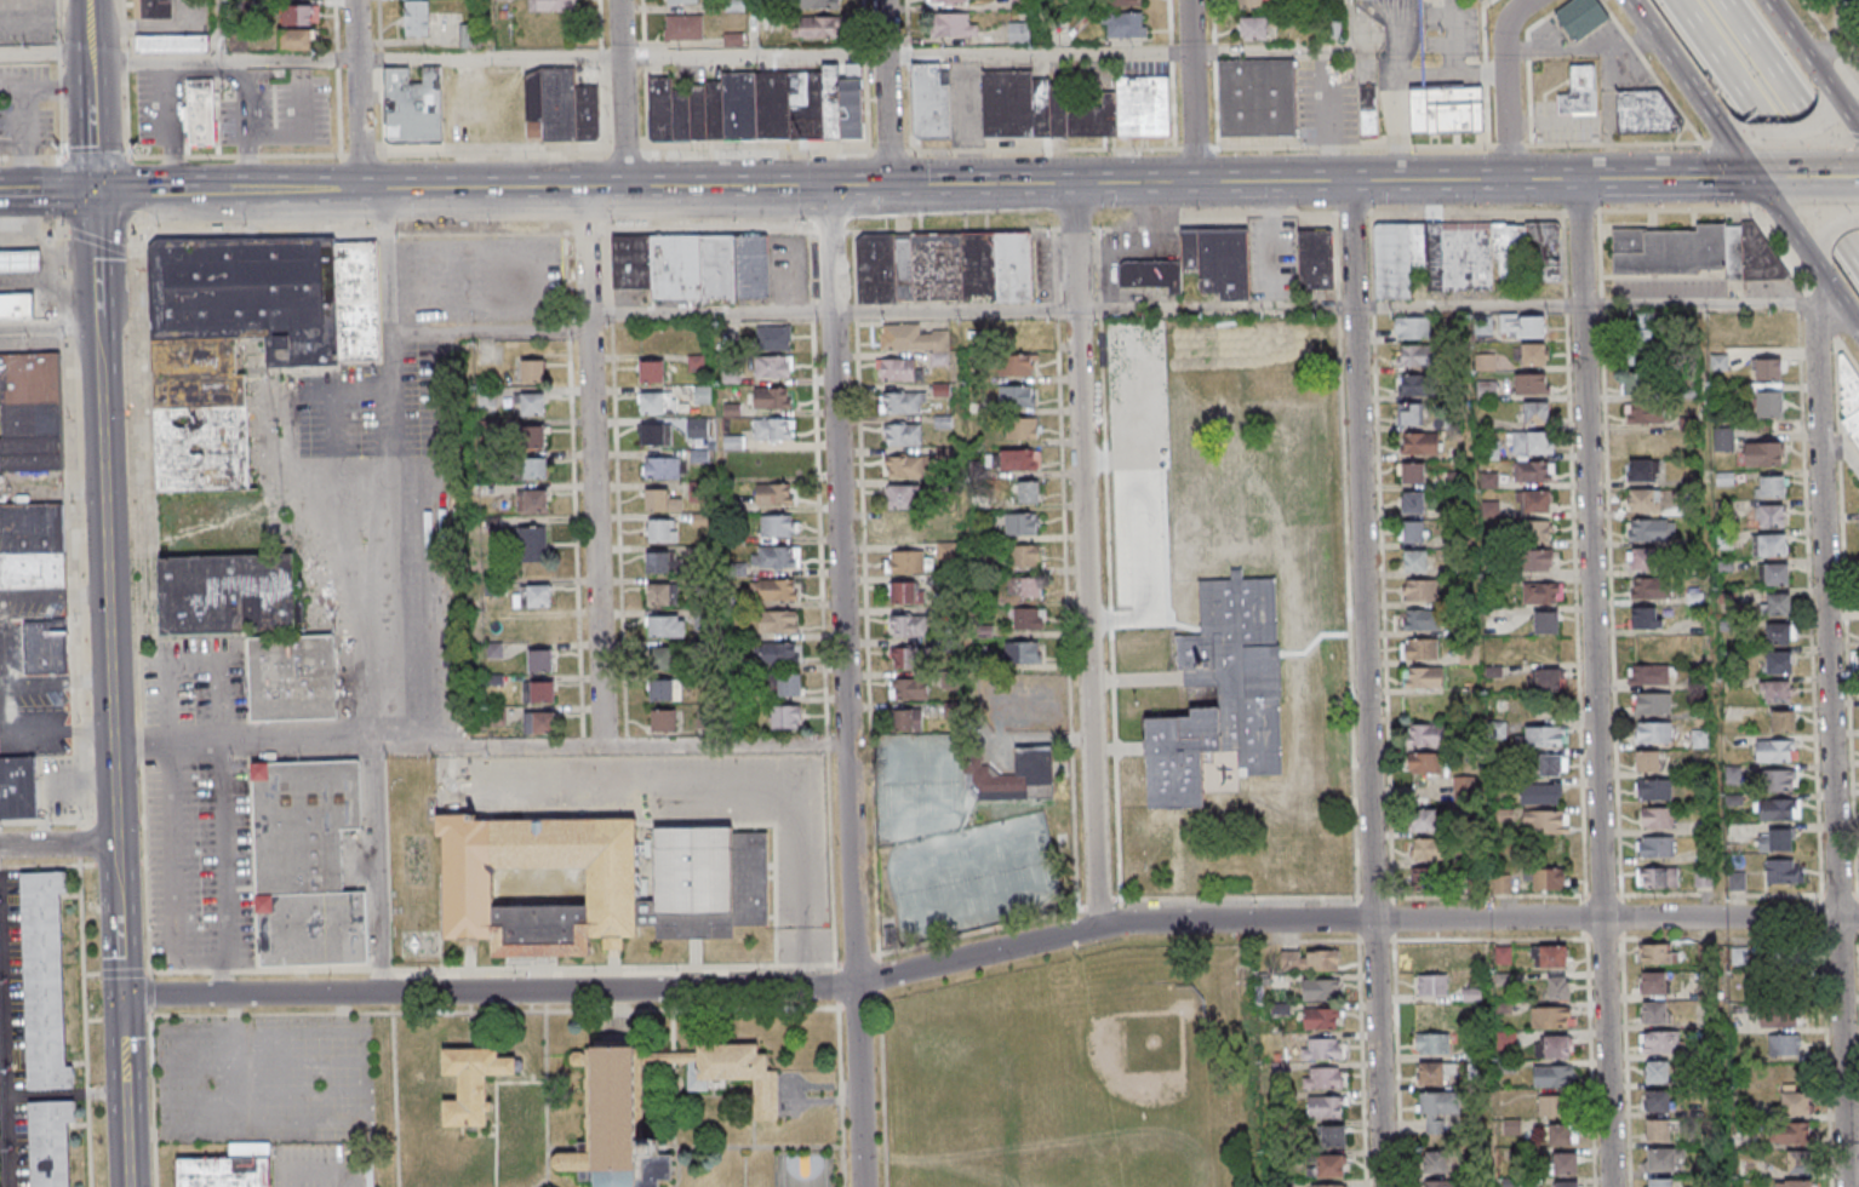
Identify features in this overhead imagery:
building: (1832, 0)
building: (679, 2)
building: (946, 2)
building: (1251, 2)
building: (1112, 4)
building: (810, 5)
building: (1017, 5)
building: (547, 6)
building: (732, 6)
building: (149, 10)
building: (299, 13)
building: (1581, 17)
building: (413, 19)
road: (56, 22)
road: (334, 24)
road: (1346, 24)
road: (122, 25)
road: (379, 25)
building: (949, 27)
building: (1121, 27)
building: (1254, 27)
road: (599, 28)
building: (680, 29)
building: (813, 29)
road: (216, 31)
road: (1396, 31)
building: (1016, 34)
road: (1457, 36)
building: (296, 38)
building: (465, 39)
building: (731, 40)
road: (1829, 40)
building: (235, 42)
road: (88, 44)
building: (168, 45)
road: (1798, 46)
road: (57, 51)
road: (983, 52)
parking lot: (1420, 53)
road: (44, 55)
road: (381, 58)
road: (487, 58)
road: (126, 59)
road: (336, 59)
road: (222, 62)
road: (645, 71)
road: (866, 73)
road: (1176, 73)
road: (1655, 73)
road: (910, 74)
road: (1401, 76)
road: (1504, 84)
road: (45, 88)
road: (1692, 88)
road: (1191, 91)
building: (1579, 91)
road: (886, 93)
road: (622, 94)
road: (356, 96)
building: (1257, 96)
building: (831, 99)
road: (1789, 99)
road: (1831, 99)
building: (852, 101)
building: (934, 101)
building: (532, 103)
building: (559, 103)
building: (806, 103)
building: (1012, 103)
building: (772, 104)
road: (382, 105)
building: (418, 105)
building: (739, 105)
building: (1063, 105)
building: (1148, 105)
building: (659, 107)
building: (1046, 107)
building: (714, 108)
building: (1446, 108)
road: (58, 109)
building: (1368, 109)
building: (200, 111)
road: (337, 111)
building: (588, 111)
building: (680, 113)
building: (697, 113)
building: (1646, 113)
road: (1844, 113)
road: (127, 114)
road: (25, 116)
building: (1099, 119)
road: (1718, 119)
road: (1788, 130)
road: (1767, 132)
road: (1854, 136)
road: (1800, 137)
road: (602, 138)
road: (1638, 143)
road: (625, 144)
road: (12, 145)
road: (1512, 145)
road: (1203, 147)
road: (894, 148)
road: (361, 150)
road: (95, 155)
road: (236, 155)
road: (32, 156)
road: (25, 170)
road: (1727, 173)
road: (1677, 178)
traffic signals: (1755, 178)
road: (1771, 178)
road: (1823, 178)
road: (1592, 179)
road: (57, 187)
road: (909, 187)
traffic signals: (890, 188)
traffic signals: (834, 189)
road: (132, 191)
road: (59, 193)
traffic signals: (95, 193)
road: (164, 194)
road: (13, 195)
road: (1672, 210)
road: (1207, 213)
road: (1352, 213)
road: (1468, 213)
road: (1579, 213)
road: (1832, 225)
road: (955, 228)
road: (1075, 228)
road: (33, 230)
road: (831, 230)
road: (97, 233)
road: (470, 233)
road: (1777, 246)
building: (1670, 252)
building: (1737, 253)
road: (1807, 253)
building: (1465, 254)
road: (1600, 256)
building: (1762, 256)
building: (1316, 258)
road: (1818, 259)
building: (22, 260)
road: (608, 260)
road: (62, 264)
building: (694, 264)
building: (1199, 264)
building: (943, 266)
road: (566, 277)
building: (248, 293)
building: (358, 299)
building: (19, 305)
road: (1601, 306)
road: (1218, 308)
road: (611, 312)
building: (1517, 325)
road: (48, 326)
road: (67, 326)
building: (1412, 328)
road: (492, 329)
road: (568, 331)
building: (773, 337)
building: (911, 337)
building: (1533, 354)
building: (1414, 356)
building: (1485, 361)
building: (1018, 365)
building: (773, 366)
building: (897, 369)
building: (1768, 369)
building: (532, 371)
building: (650, 371)
building: (198, 372)
building: (1531, 383)
building: (1636, 383)
building: (1415, 385)
building: (1486, 389)
building: (1852, 392)
building: (702, 394)
building: (1020, 395)
building: (771, 397)
building: (656, 402)
building: (902, 402)
building: (532, 405)
building: (1771, 406)
building: (30, 411)
building: (1643, 413)
building: (1409, 414)
building: (1537, 414)
building: (697, 426)
building: (773, 428)
building: (1022, 428)
building: (654, 434)
building: (900, 434)
building: (533, 436)
building: (1723, 438)
building: (731, 441)
building: (1645, 441)
building: (1419, 443)
building: (1529, 443)
road: (1844, 443)
building: (202, 446)
building: (1763, 453)
building: (1023, 459)
road: (105, 464)
building: (905, 466)
building: (532, 468)
road: (600, 468)
building: (664, 468)
building: (1638, 469)
road: (393, 470)
parking lot: (1139, 471)
building: (1411, 472)
building: (1533, 472)
road: (130, 474)
road: (820, 481)
building: (1777, 486)
road: (345, 491)
building: (773, 493)
building: (1026, 493)
building: (900, 497)
building: (532, 500)
building: (659, 500)
building: (1643, 500)
building: (1413, 501)
building: (1533, 503)
road: (967, 514)
building: (1775, 515)
building: (778, 526)
building: (1020, 526)
building: (659, 529)
building: (906, 531)
building: (1414, 531)
building: (1651, 531)
building: (1533, 532)
road: (618, 534)
road: (576, 538)
building: (532, 543)
building: (32, 545)
building: (1773, 545)
building: (946, 551)
road: (1573, 554)
road: (1089, 555)
building: (1025, 556)
building: (779, 557)
building: (1537, 561)
building: (1642, 561)
building: (657, 562)
building: (909, 562)
building: (1415, 562)
road: (1108, 566)
road: (1065, 570)
building: (1778, 574)
road: (76, 581)
building: (1024, 586)
building: (1646, 589)
building: (774, 590)
building: (1420, 590)
building: (224, 591)
building: (906, 592)
building: (1543, 592)
building: (660, 593)
road: (864, 593)
building: (534, 595)
building: (1154, 603)
road: (1611, 604)
building: (1783, 604)
building: (1028, 618)
building: (1422, 619)
building: (1645, 619)
building: (777, 621)
building: (1546, 621)
building: (665, 626)
building: (908, 626)
building: (1783, 633)
building: (44, 646)
building: (1419, 648)
building: (1023, 652)
building: (778, 653)
building: (909, 656)
building: (540, 659)
building: (1783, 663)
building: (1648, 675)
building: (1423, 676)
building: (292, 677)
road: (1140, 678)
building: (1546, 678)
road: (1372, 683)
road: (1600, 683)
building: (789, 684)
building: (664, 688)
road: (852, 688)
building: (909, 688)
building: (538, 690)
building: (1781, 690)
building: (1228, 695)
building: (1658, 704)
parking lot: (1014, 710)
building: (785, 718)
building: (908, 718)
building: (662, 719)
building: (1788, 721)
building: (538, 722)
building: (1658, 733)
building: (1426, 734)
building: (1541, 736)
road: (1834, 738)
road: (826, 740)
road: (990, 740)
road: (139, 741)
road: (583, 741)
road: (486, 747)
road: (993, 747)
building: (1778, 752)
building: (1647, 761)
building: (1425, 762)
building: (1552, 763)
building: (1014, 775)
road: (708, 780)
building: (1783, 780)
building: (18, 787)
building: (1464, 789)
building: (1659, 791)
building: (1540, 793)
building: (1780, 810)
building: (1422, 819)
building: (1660, 819)
road: (39, 821)
building: (1546, 821)
building: (1779, 841)
road: (59, 843)
road: (79, 843)
park: (955, 847)
building: (1661, 847)
building: (1426, 848)
road: (831, 858)
road: (230, 861)
building: (307, 862)
road: (39, 865)
road: (144, 868)
road: (384, 870)
building: (1784, 871)
building: (1657, 877)
building: (1424, 878)
building: (1703, 878)
building: (1546, 879)
building: (602, 883)
building: (1499, 883)
road: (178, 891)
road: (1235, 895)
road: (1374, 895)
road: (1504, 895)
road: (1739, 895)
road: (1097, 900)
road: (1121, 914)
road: (120, 918)
road: (1356, 921)
road: (1077, 924)
road: (977, 929)
building: (1657, 953)
building: (1550, 956)
road: (856, 958)
building: (1310, 959)
building: (1431, 959)
road: (493, 967)
road: (803, 967)
road: (879, 973)
road: (121, 974)
road: (91, 975)
building: (44, 979)
building: (1654, 982)
road: (835, 985)
building: (1431, 985)
building: (1560, 987)
building: (1321, 990)
road: (148, 991)
road: (491, 992)
road: (876, 994)
traffic signals: (121, 996)
road: (391, 998)
road: (858, 1002)
road: (496, 1010)
building: (1654, 1013)
building: (1434, 1015)
building: (1550, 1016)
building: (1778, 1016)
building: (1323, 1019)
road: (84, 1022)
road: (674, 1030)
building: (1432, 1043)
building: (1660, 1043)
building: (1784, 1045)
building: (1552, 1046)
building: (1322, 1050)
road: (674, 1056)
building: (1657, 1072)
building: (1430, 1074)
building: (1552, 1074)
building: (1323, 1078)
building: (473, 1085)
road: (883, 1086)
park: (1117, 1086)
road: (545, 1089)
road: (124, 1091)
road: (840, 1094)
road: (395, 1095)
road: (151, 1096)
building: (1658, 1100)
building: (1795, 1102)
building: (1550, 1105)
building: (612, 1106)
building: (1326, 1107)
building: (1437, 1111)
road: (675, 1125)
building: (1658, 1129)
building: (1561, 1134)
building: (1790, 1134)
building: (1332, 1136)
building: (50, 1142)
road: (759, 1145)
building: (1661, 1159)
building: (1435, 1162)
building: (1798, 1162)
building: (1565, 1163)
building: (1329, 1165)
building: (223, 1171)
road: (544, 1179)
building: (1660, 1182)
building: (1440, 1183)
building: (1566, 1183)
building: (1797, 1183)
building: (1327, 1185)

